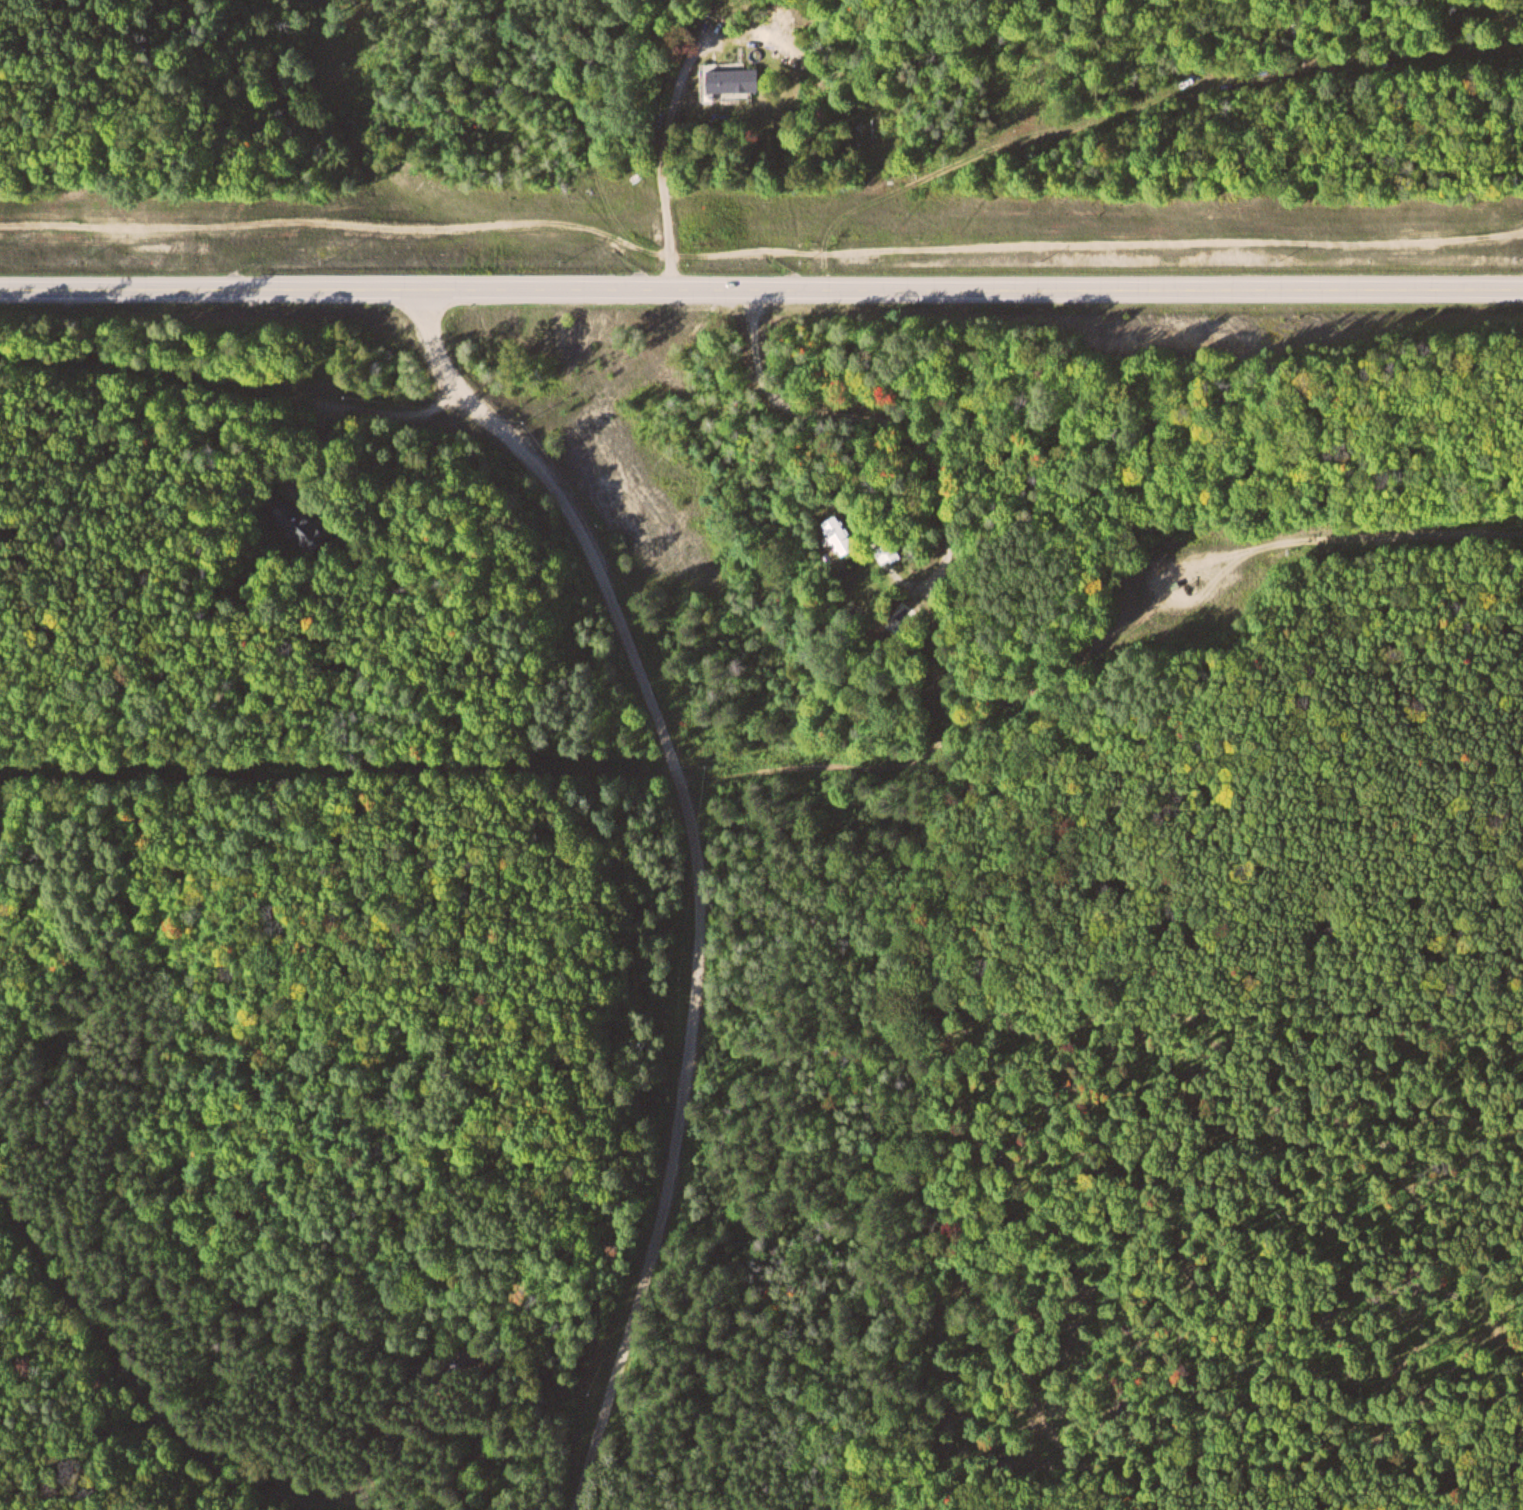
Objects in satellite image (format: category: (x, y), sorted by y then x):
building: (729, 82)
road: (760, 251)
road: (761, 294)
building: (850, 535)
road: (1375, 536)
petroleum well: (1181, 589)
road: (1150, 599)
road: (697, 871)
road: (129, 1376)

